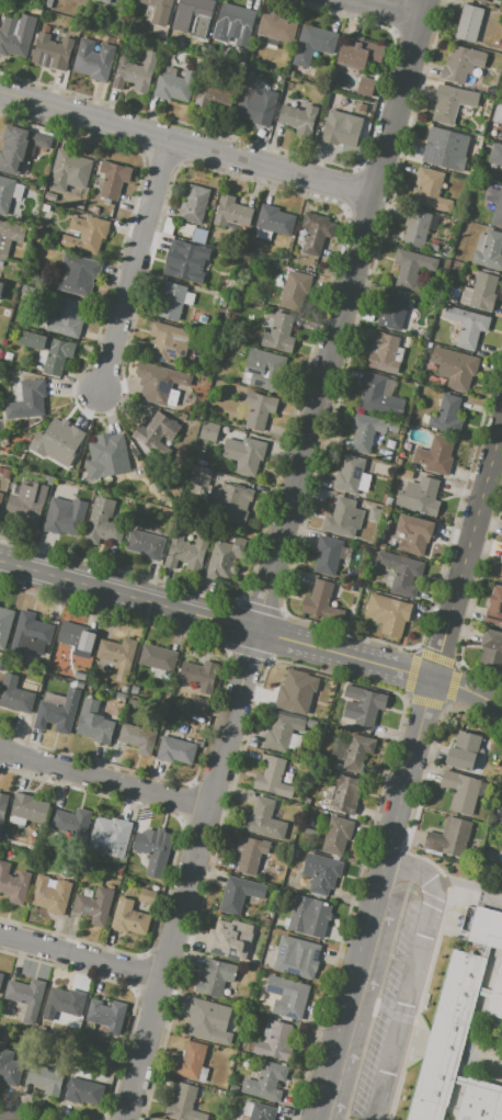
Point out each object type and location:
building: (104, 1)
building: (481, 1)
building: (158, 2)
building: (48, 3)
road: (389, 8)
building: (195, 14)
building: (468, 23)
building: (235, 24)
building: (276, 27)
building: (172, 29)
building: (16, 35)
building: (312, 44)
building: (52, 50)
building: (360, 54)
building: (93, 59)
building: (461, 63)
building: (135, 72)
building: (174, 84)
building: (214, 94)
building: (452, 102)
building: (258, 108)
building: (498, 112)
building: (298, 118)
building: (340, 133)
building: (501, 133)
road: (187, 144)
building: (20, 148)
building: (445, 148)
building: (495, 155)
building: (69, 168)
building: (113, 179)
building: (430, 190)
building: (5, 193)
building: (194, 204)
building: (233, 211)
building: (498, 211)
building: (275, 219)
building: (167, 225)
building: (418, 227)
building: (316, 233)
building: (85, 234)
building: (199, 235)
building: (9, 236)
building: (489, 250)
building: (185, 263)
road: (137, 267)
building: (411, 267)
building: (76, 274)
building: (0, 284)
building: (295, 289)
building: (229, 290)
building: (480, 292)
building: (171, 301)
building: (223, 301)
building: (392, 310)
building: (67, 318)
building: (467, 325)
building: (279, 332)
building: (168, 341)
building: (225, 342)
building: (49, 350)
building: (384, 352)
building: (454, 367)
building: (265, 369)
building: (164, 386)
building: (378, 396)
building: (26, 399)
building: (259, 409)
building: (446, 416)
building: (157, 429)
building: (367, 430)
building: (209, 431)
building: (56, 441)
building: (106, 449)
building: (244, 452)
building: (435, 455)
building: (5, 473)
building: (349, 474)
building: (408, 474)
building: (201, 477)
building: (0, 491)
building: (419, 495)
building: (1, 497)
building: (32, 501)
building: (231, 501)
building: (65, 518)
building: (344, 518)
building: (99, 524)
building: (415, 533)
building: (146, 544)
building: (187, 552)
building: (328, 555)
building: (225, 558)
road: (276, 559)
building: (501, 559)
building: (400, 570)
building: (319, 600)
building: (494, 607)
building: (388, 613)
road: (216, 616)
building: (4, 625)
building: (30, 637)
building: (76, 637)
building: (491, 648)
building: (116, 652)
building: (158, 657)
building: (197, 672)
building: (293, 690)
road: (467, 690)
building: (14, 693)
building: (198, 704)
building: (362, 705)
building: (57, 712)
building: (93, 723)
building: (282, 732)
building: (137, 738)
building: (175, 750)
building: (352, 750)
building: (464, 750)
road: (408, 768)
road: (104, 778)
building: (273, 778)
building: (461, 791)
building: (345, 794)
building: (2, 807)
building: (28, 807)
building: (499, 812)
building: (263, 819)
building: (70, 821)
building: (110, 835)
building: (336, 835)
building: (449, 837)
building: (155, 849)
building: (248, 853)
building: (321, 872)
road: (456, 881)
building: (13, 883)
road: (489, 894)
building: (147, 895)
building: (233, 895)
building: (49, 898)
building: (93, 905)
building: (309, 915)
building: (128, 917)
building: (486, 927)
building: (227, 936)
road: (83, 953)
building: (295, 959)
road: (412, 975)
building: (1, 977)
building: (215, 977)
building: (495, 992)
building: (25, 993)
building: (292, 999)
building: (66, 1002)
building: (105, 1012)
building: (204, 1022)
building: (445, 1036)
building: (274, 1041)
flagpole: (412, 1057)
building: (191, 1061)
building: (10, 1067)
building: (47, 1077)
building: (265, 1082)
building: (83, 1091)
building: (479, 1101)
building: (184, 1105)
building: (262, 1111)
road: (1, 1119)

